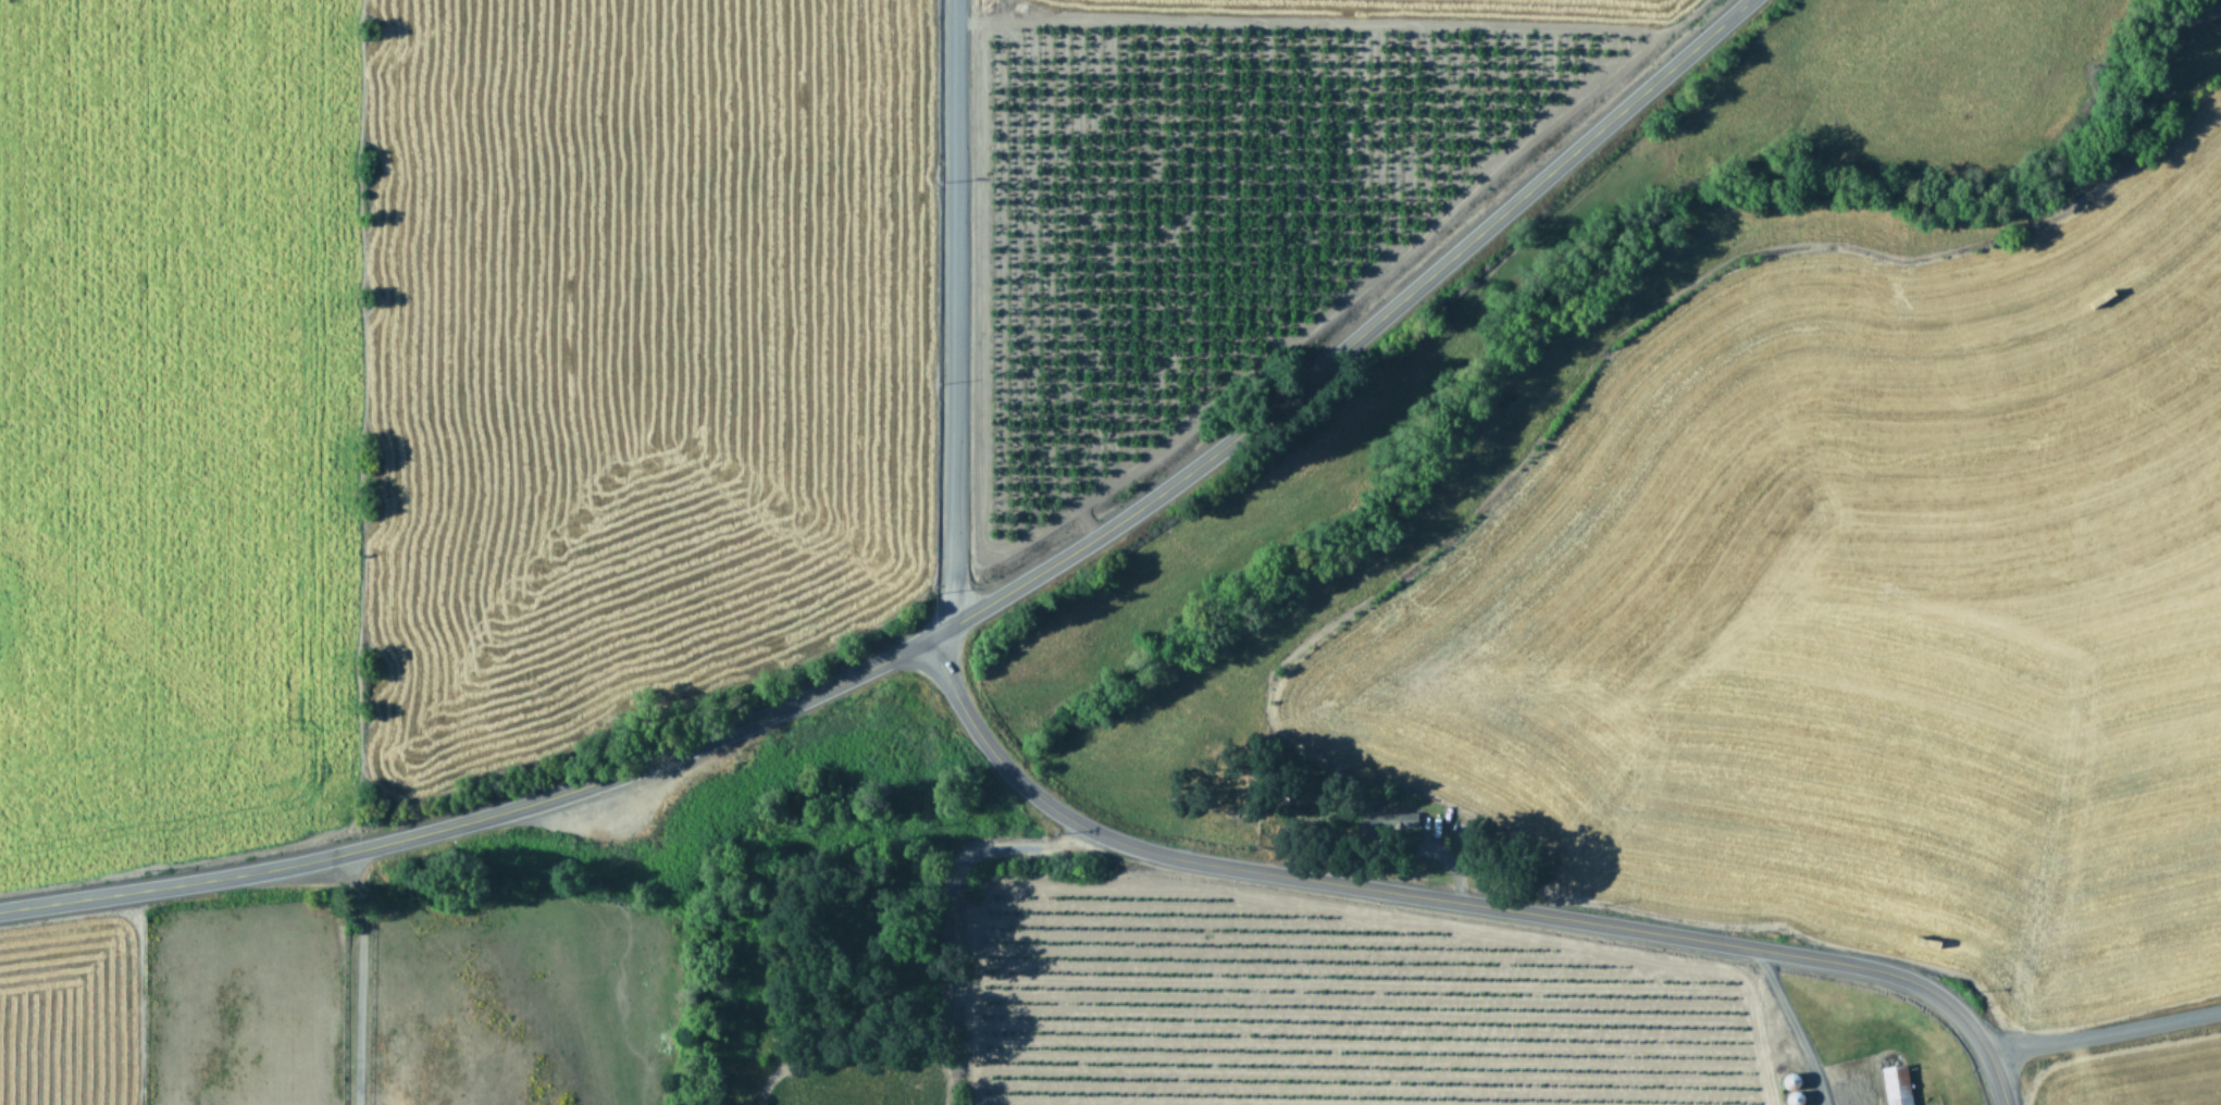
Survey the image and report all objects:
crop: (1377, 172)
road: (951, 310)
crop: (435, 382)
road: (956, 620)
crop: (1708, 713)
road: (1453, 898)
road: (360, 976)
crop: (339, 1007)
road: (1790, 1026)
road: (2104, 1031)
building: (1896, 1083)

